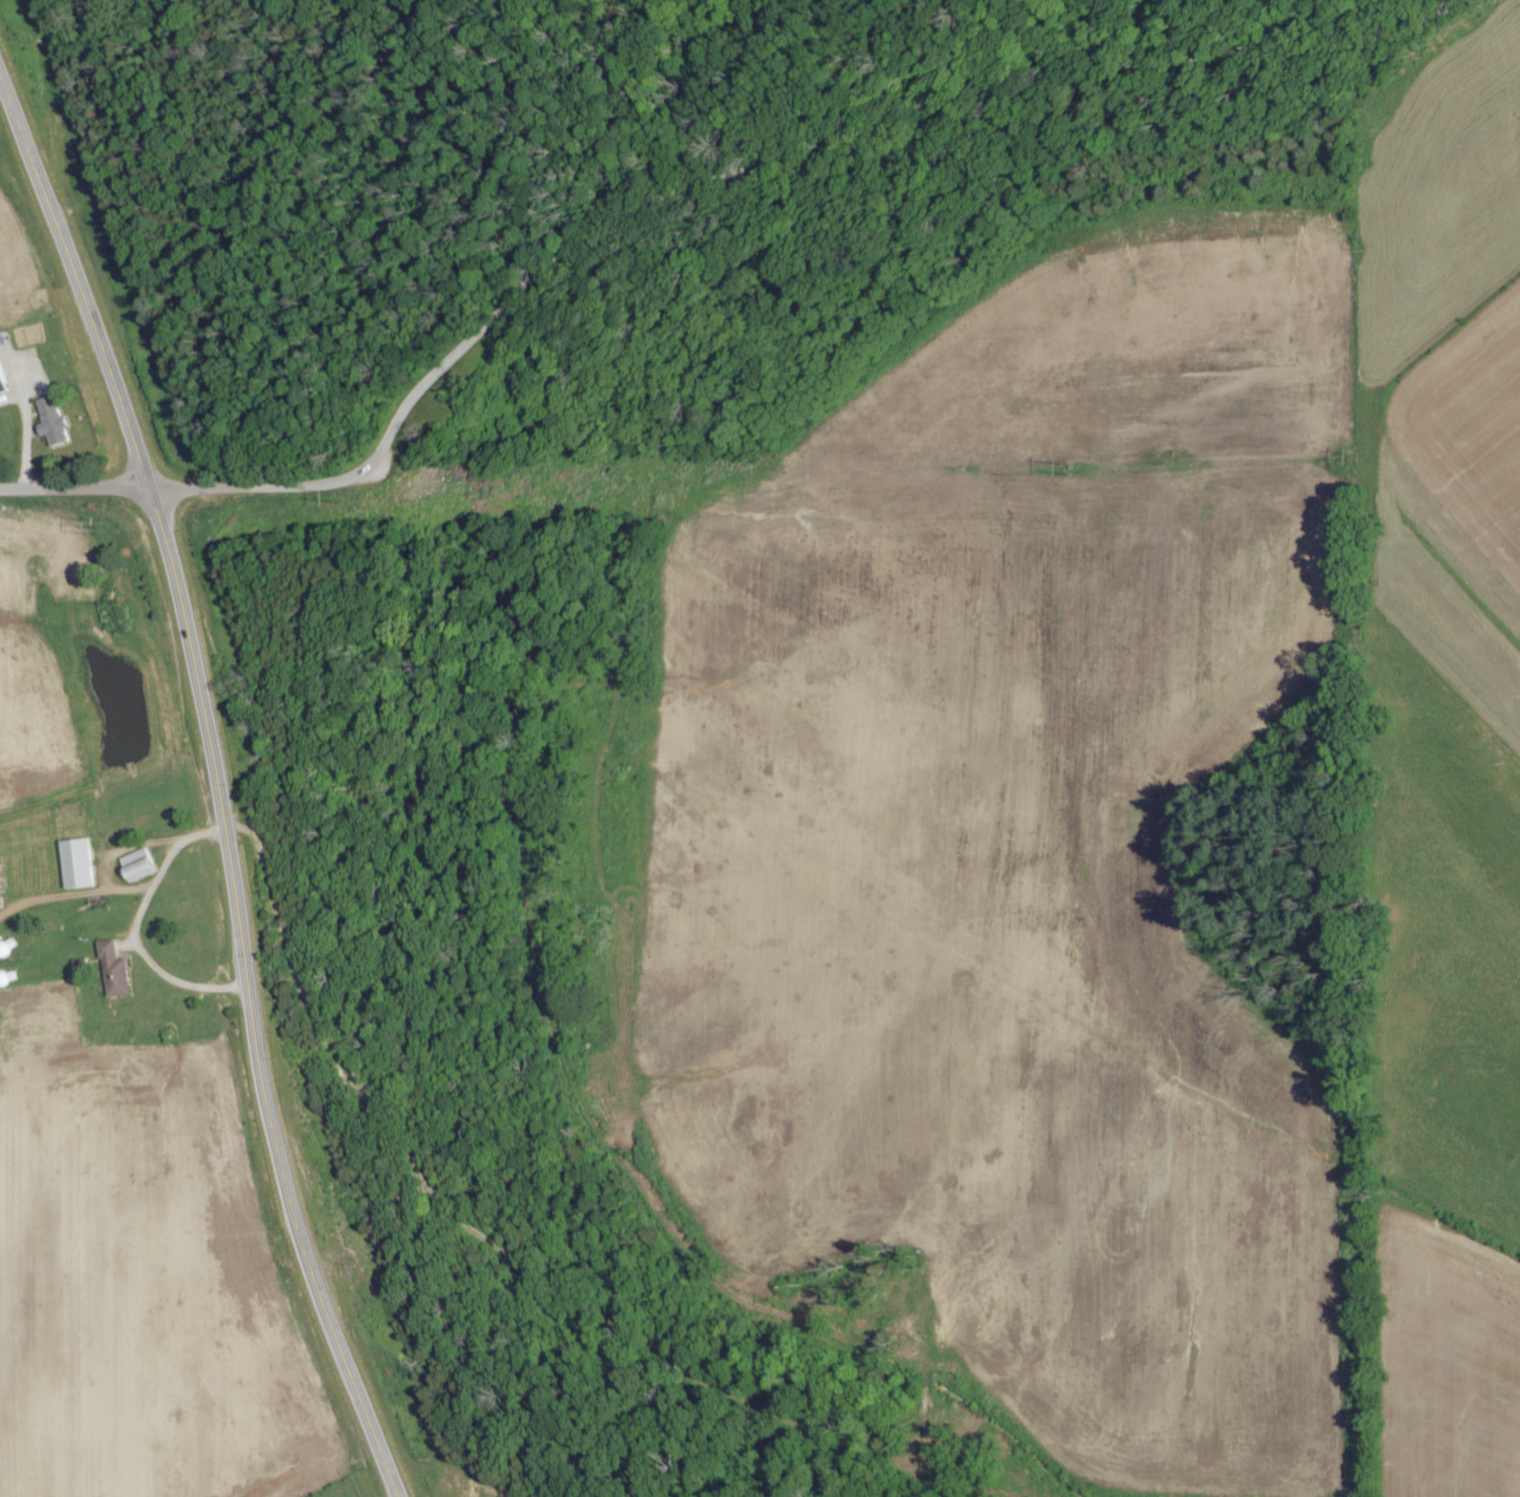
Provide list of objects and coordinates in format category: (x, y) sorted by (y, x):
road: (705, 194)
building: (5, 377)
building: (58, 421)
road: (215, 785)
building: (75, 863)
building: (135, 865)
building: (0, 906)
road: (130, 925)
building: (112, 971)

